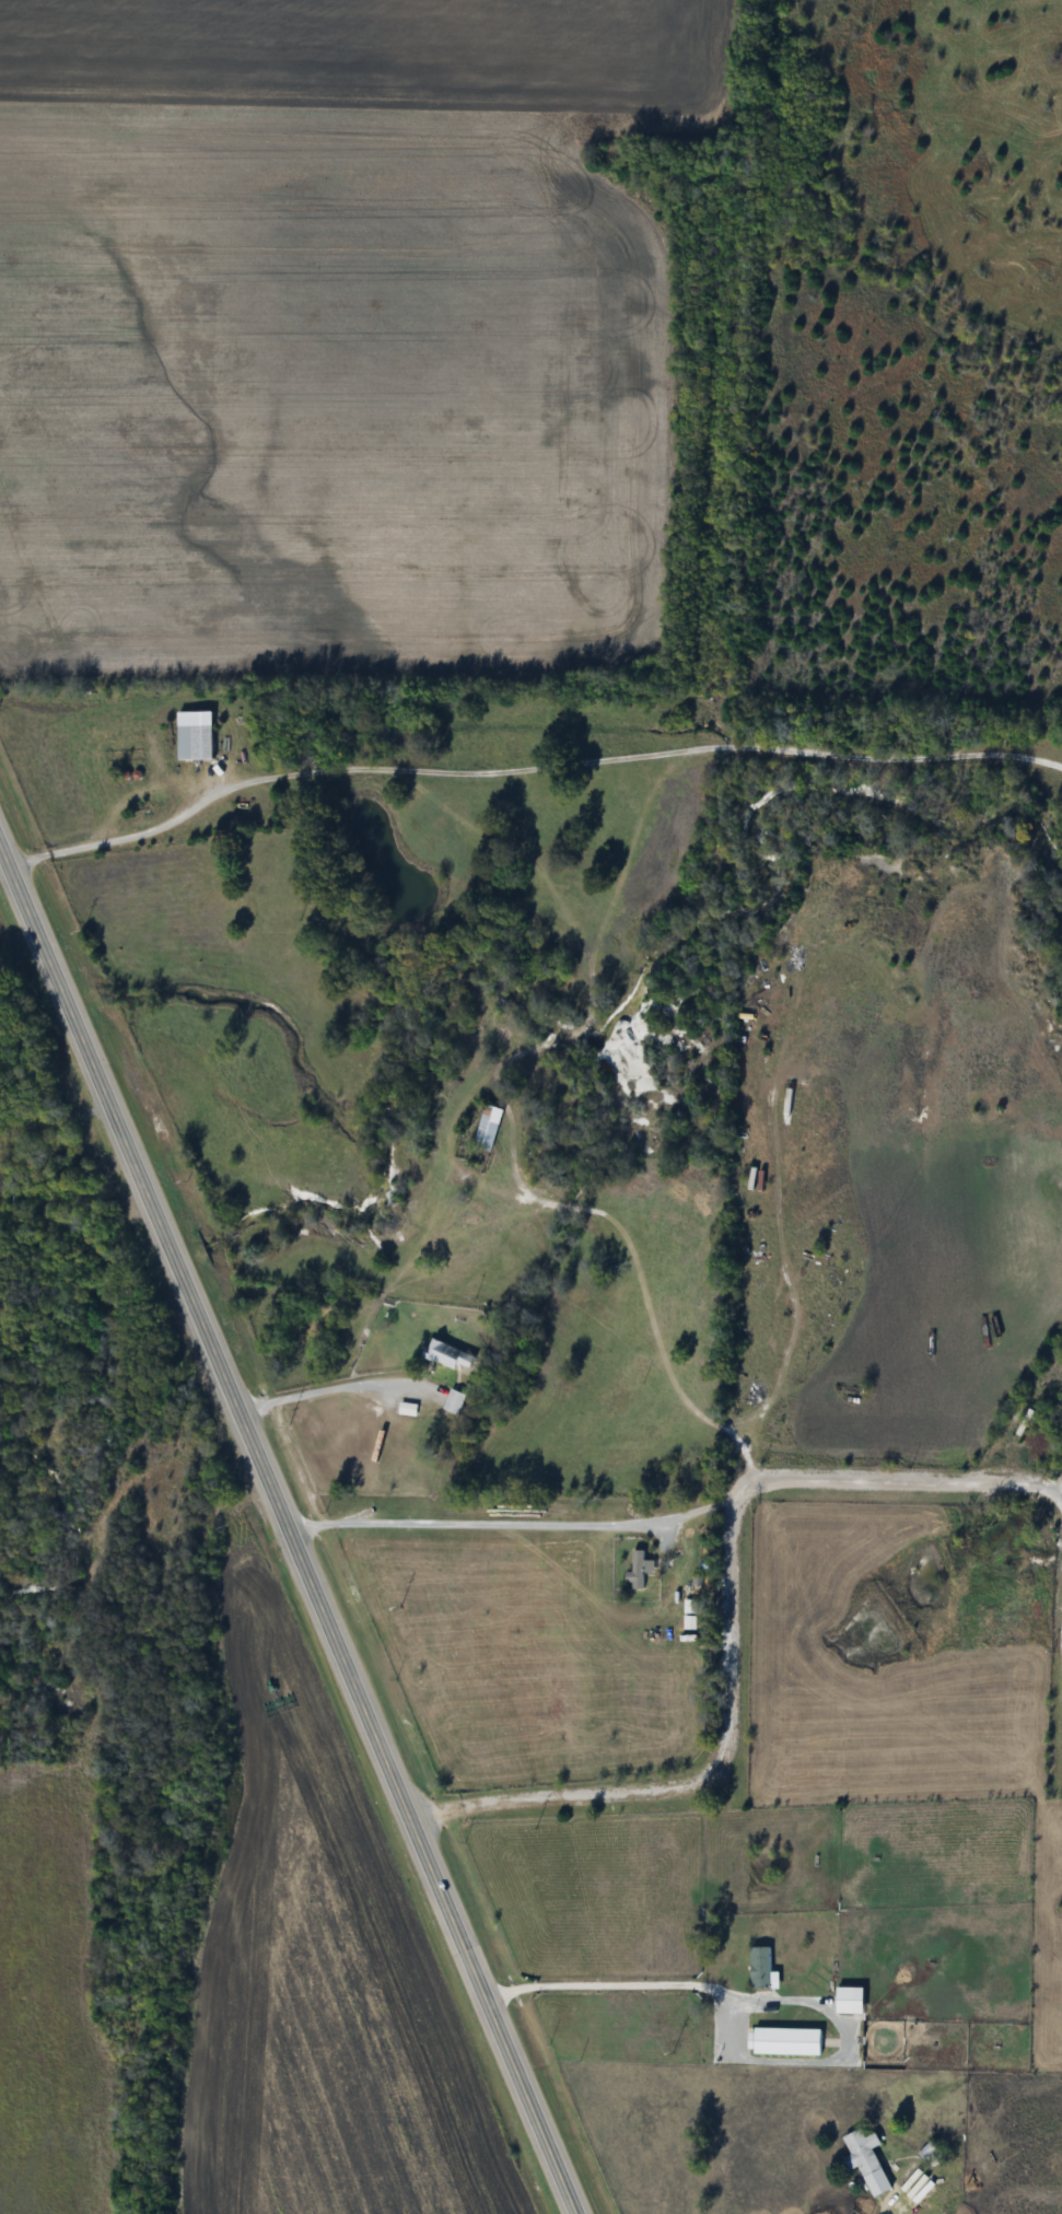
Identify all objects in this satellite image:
road: (288, 578)
building: (191, 735)
road: (528, 766)
building: (486, 1128)
road: (787, 1273)
road: (653, 1316)
building: (446, 1357)
road: (324, 1387)
building: (452, 1402)
road: (1059, 1493)
road: (688, 1511)
road: (296, 1524)
building: (634, 1570)
building: (687, 1617)
road: (701, 1779)
building: (758, 1968)
road: (594, 1984)
building: (847, 2000)
building: (878, 2040)
building: (784, 2041)
building: (860, 2153)
building: (927, 2154)
road: (873, 2213)

